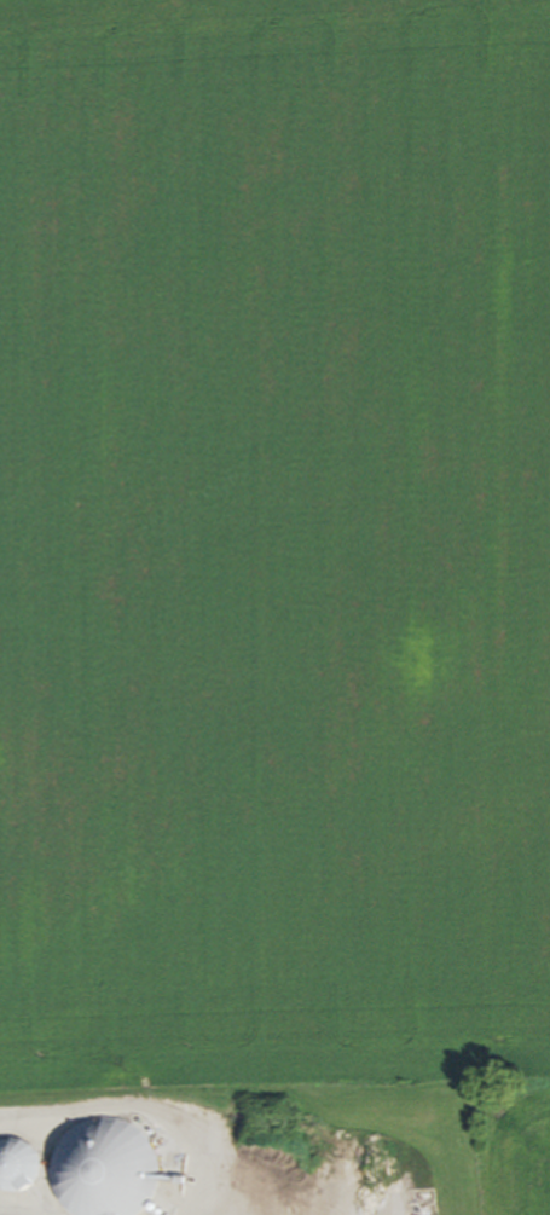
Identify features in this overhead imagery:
building: (13, 1169)
building: (106, 1169)

